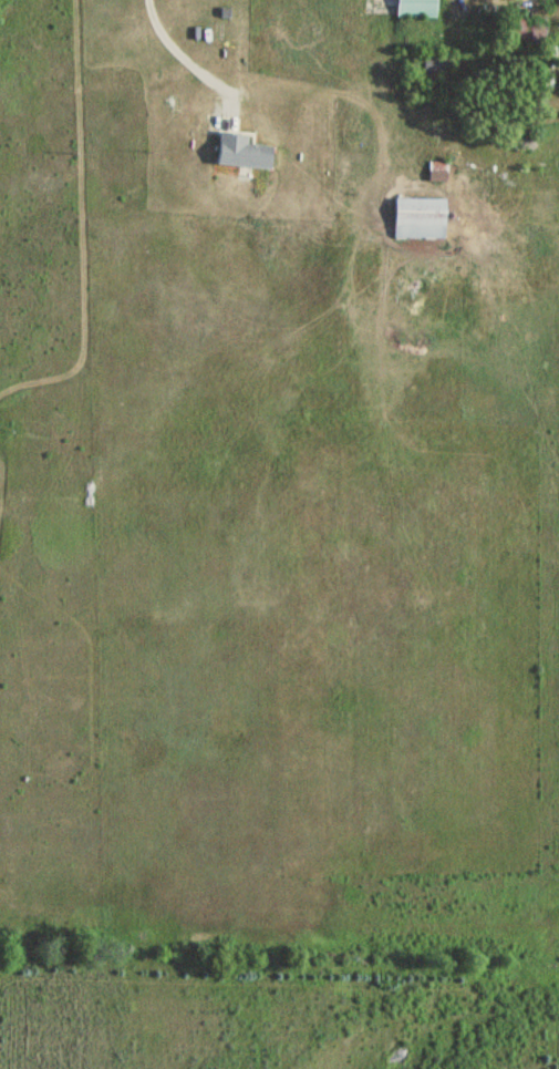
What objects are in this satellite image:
building: (415, 7)
building: (516, 31)
road: (183, 52)
building: (435, 61)
building: (237, 152)
building: (416, 218)

